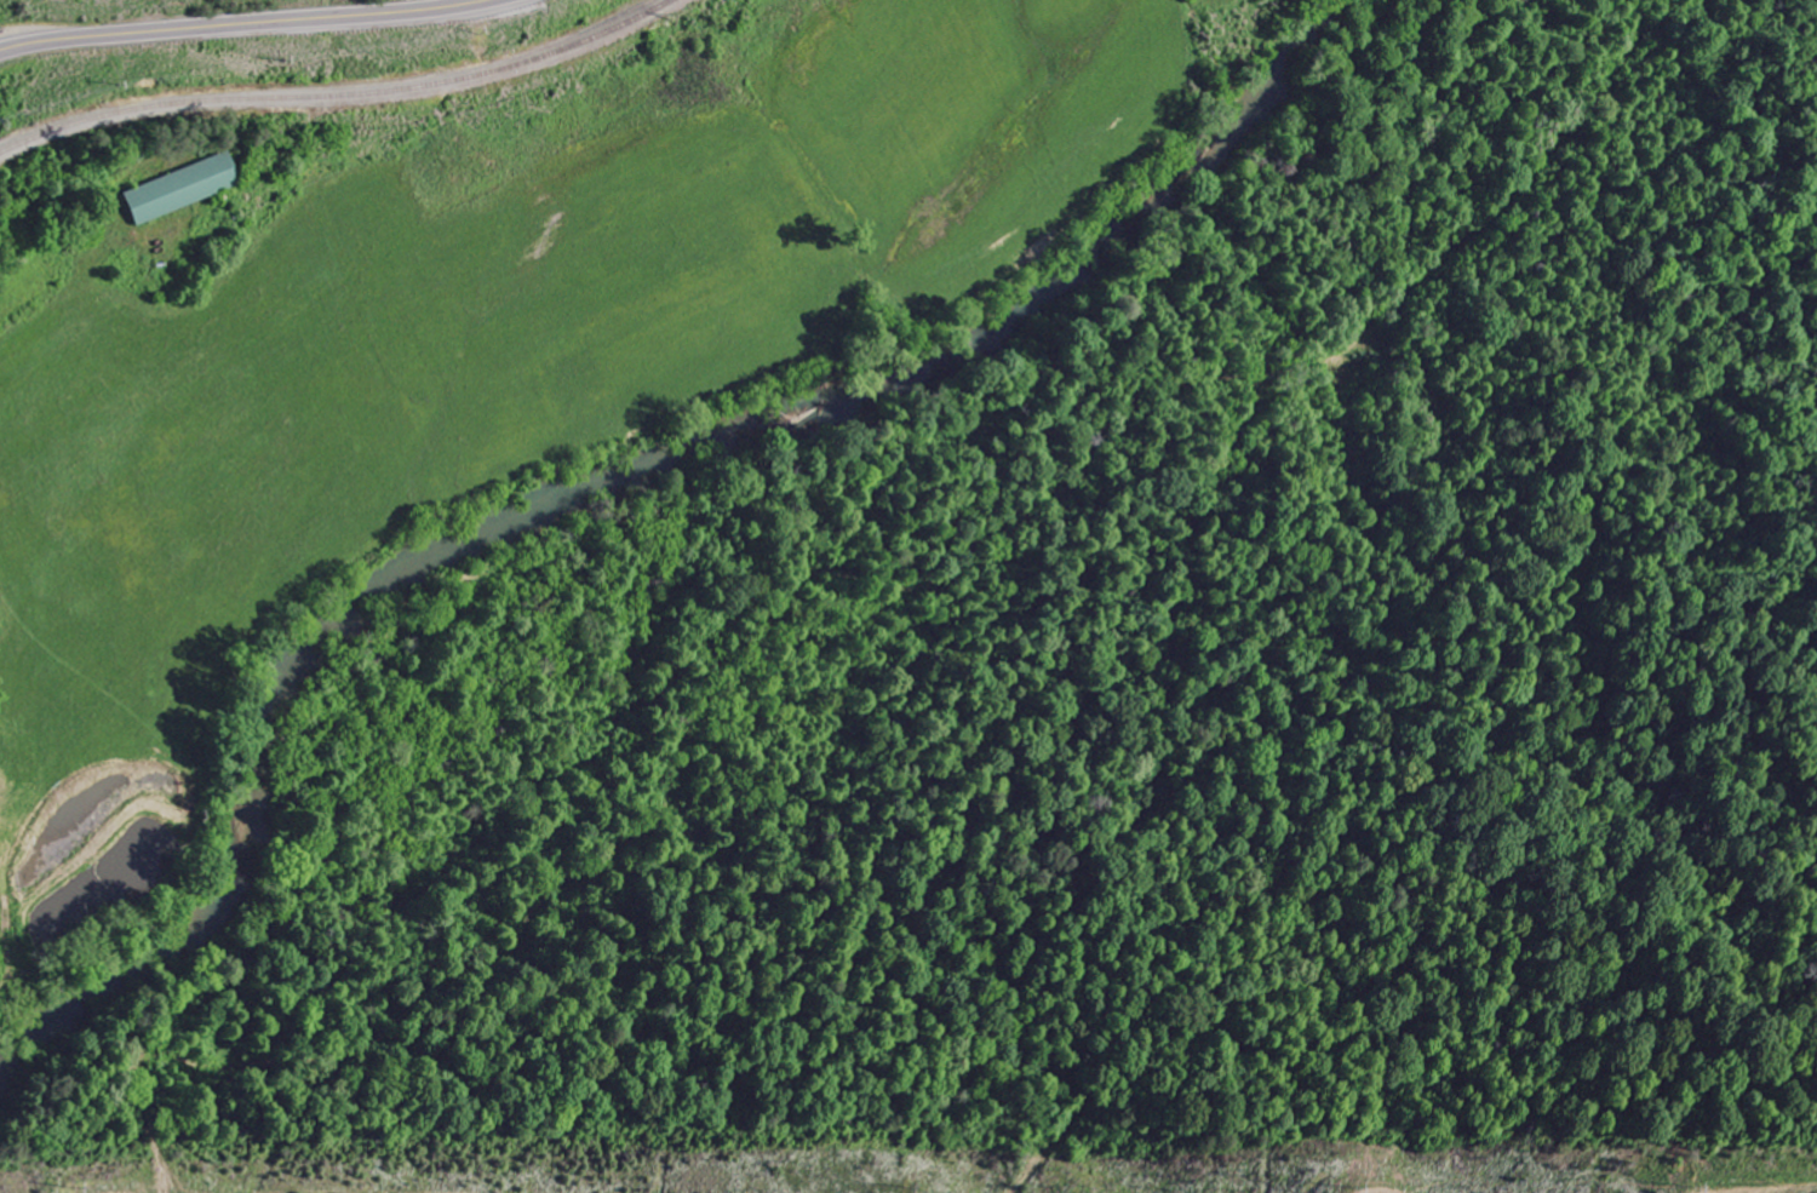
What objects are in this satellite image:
road: (258, 29)
railway: (340, 93)
building: (180, 189)

